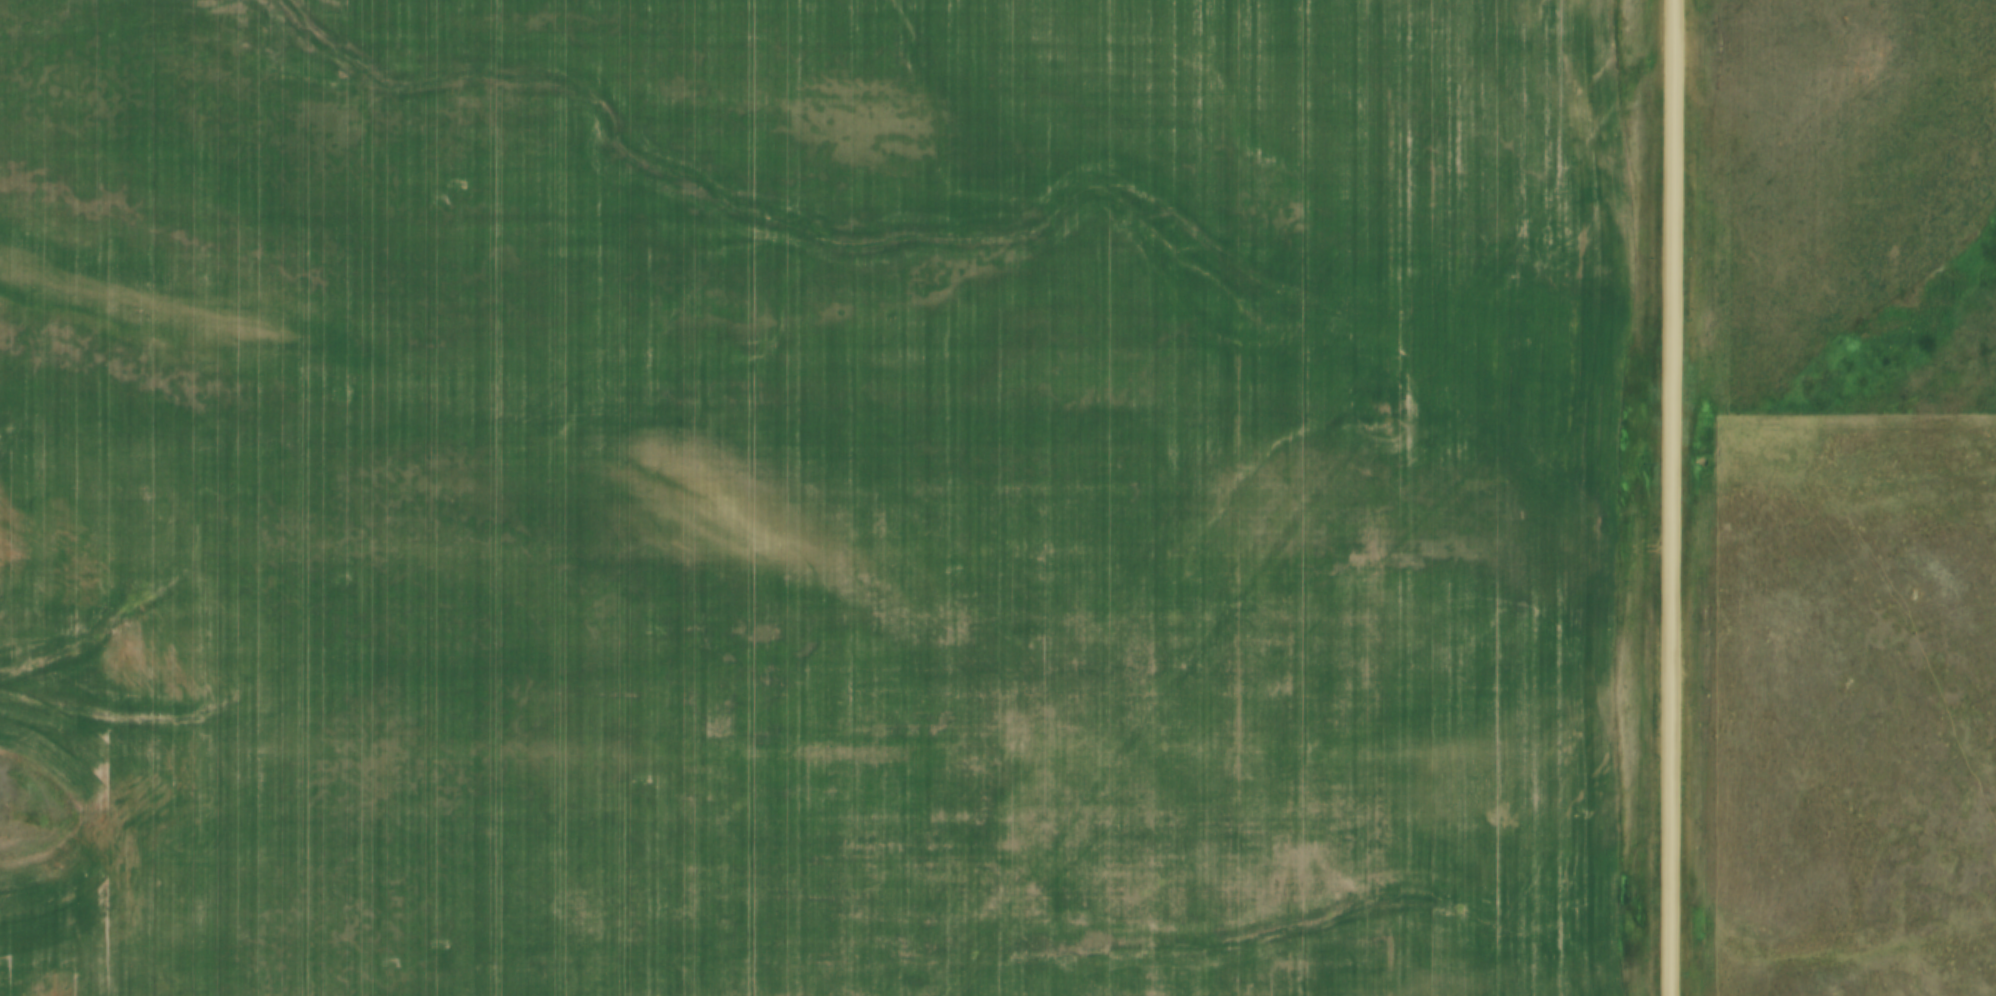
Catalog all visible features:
road: (1672, 498)

